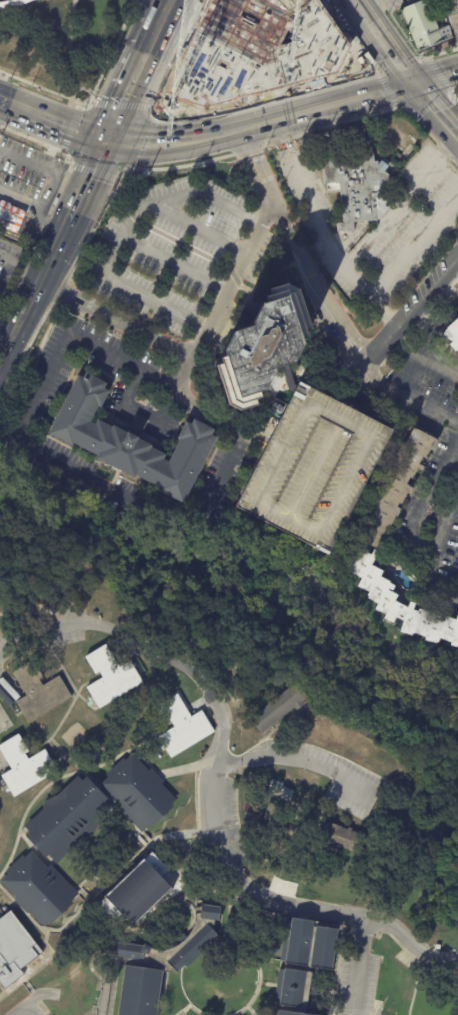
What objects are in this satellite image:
building: (1, 0)
parking lot: (1, 0)
road: (353, 2)
road: (12, 3)
road: (173, 5)
road: (197, 10)
building: (452, 15)
road: (343, 21)
road: (340, 22)
road: (39, 23)
building: (424, 25)
road: (160, 33)
road: (382, 44)
park: (62, 45)
road: (114, 47)
building: (259, 47)
road: (68, 50)
road: (360, 51)
road: (439, 53)
road: (367, 61)
road: (395, 61)
railway: (410, 62)
road: (384, 63)
road: (370, 69)
road: (439, 73)
road: (436, 77)
road: (323, 80)
road: (379, 80)
road: (329, 81)
traffic signals: (414, 83)
road: (35, 84)
road: (77, 89)
road: (384, 89)
road: (264, 94)
road: (131, 95)
road: (451, 96)
road: (157, 100)
road: (336, 103)
road: (46, 104)
road: (84, 104)
road: (120, 104)
road: (154, 104)
road: (429, 104)
road: (140, 107)
road: (436, 107)
road: (404, 110)
road: (158, 112)
road: (158, 113)
road: (150, 124)
road: (43, 126)
road: (71, 127)
road: (241, 128)
road: (100, 133)
traffic signals: (113, 136)
road: (168, 139)
road: (146, 140)
building: (407, 143)
road: (67, 157)
road: (123, 169)
road: (92, 172)
road: (91, 177)
parking lot: (28, 182)
road: (50, 183)
building: (359, 186)
road: (177, 196)
road: (401, 200)
parking lot: (373, 208)
building: (11, 217)
building: (329, 219)
road: (43, 225)
road: (199, 227)
building: (335, 234)
road: (294, 252)
road: (21, 264)
road: (173, 264)
road: (347, 271)
road: (40, 278)
road: (12, 303)
parking lot: (152, 303)
road: (384, 313)
road: (117, 318)
road: (404, 323)
road: (205, 328)
road: (5, 334)
building: (451, 337)
road: (5, 346)
building: (264, 347)
road: (425, 360)
road: (346, 393)
road: (410, 398)
road: (142, 411)
building: (137, 424)
building: (131, 442)
road: (42, 452)
building: (311, 467)
parking lot: (311, 467)
parking lot: (428, 485)
building: (399, 487)
road: (438, 546)
building: (397, 603)
road: (119, 631)
building: (114, 681)
building: (7, 693)
building: (38, 696)
building: (279, 711)
road: (63, 715)
building: (4, 722)
building: (179, 727)
road: (124, 730)
road: (54, 757)
road: (297, 760)
road: (192, 765)
road: (1, 766)
building: (25, 766)
road: (66, 775)
road: (164, 775)
building: (274, 788)
building: (136, 789)
building: (288, 795)
building: (277, 813)
building: (331, 814)
building: (68, 823)
road: (140, 832)
building: (343, 839)
road: (230, 860)
building: (38, 884)
building: (137, 893)
building: (209, 912)
road: (367, 912)
road: (62, 939)
road: (66, 947)
building: (191, 947)
building: (13, 949)
building: (130, 950)
building: (300, 963)
road: (257, 984)
road: (265, 984)
building: (140, 990)
road: (35, 996)
road: (33, 1000)
road: (184, 1010)
road: (195, 1010)

